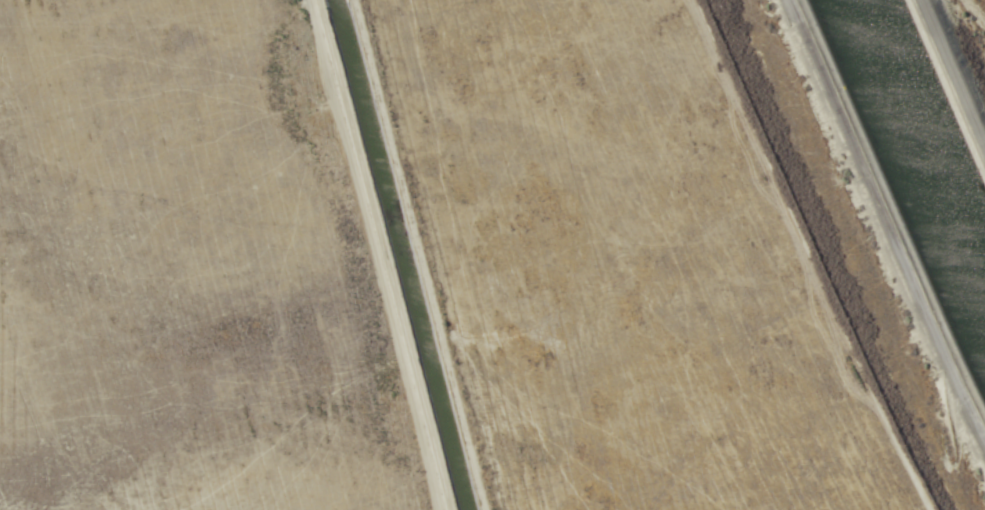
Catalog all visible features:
road: (960, 57)
road: (886, 217)

